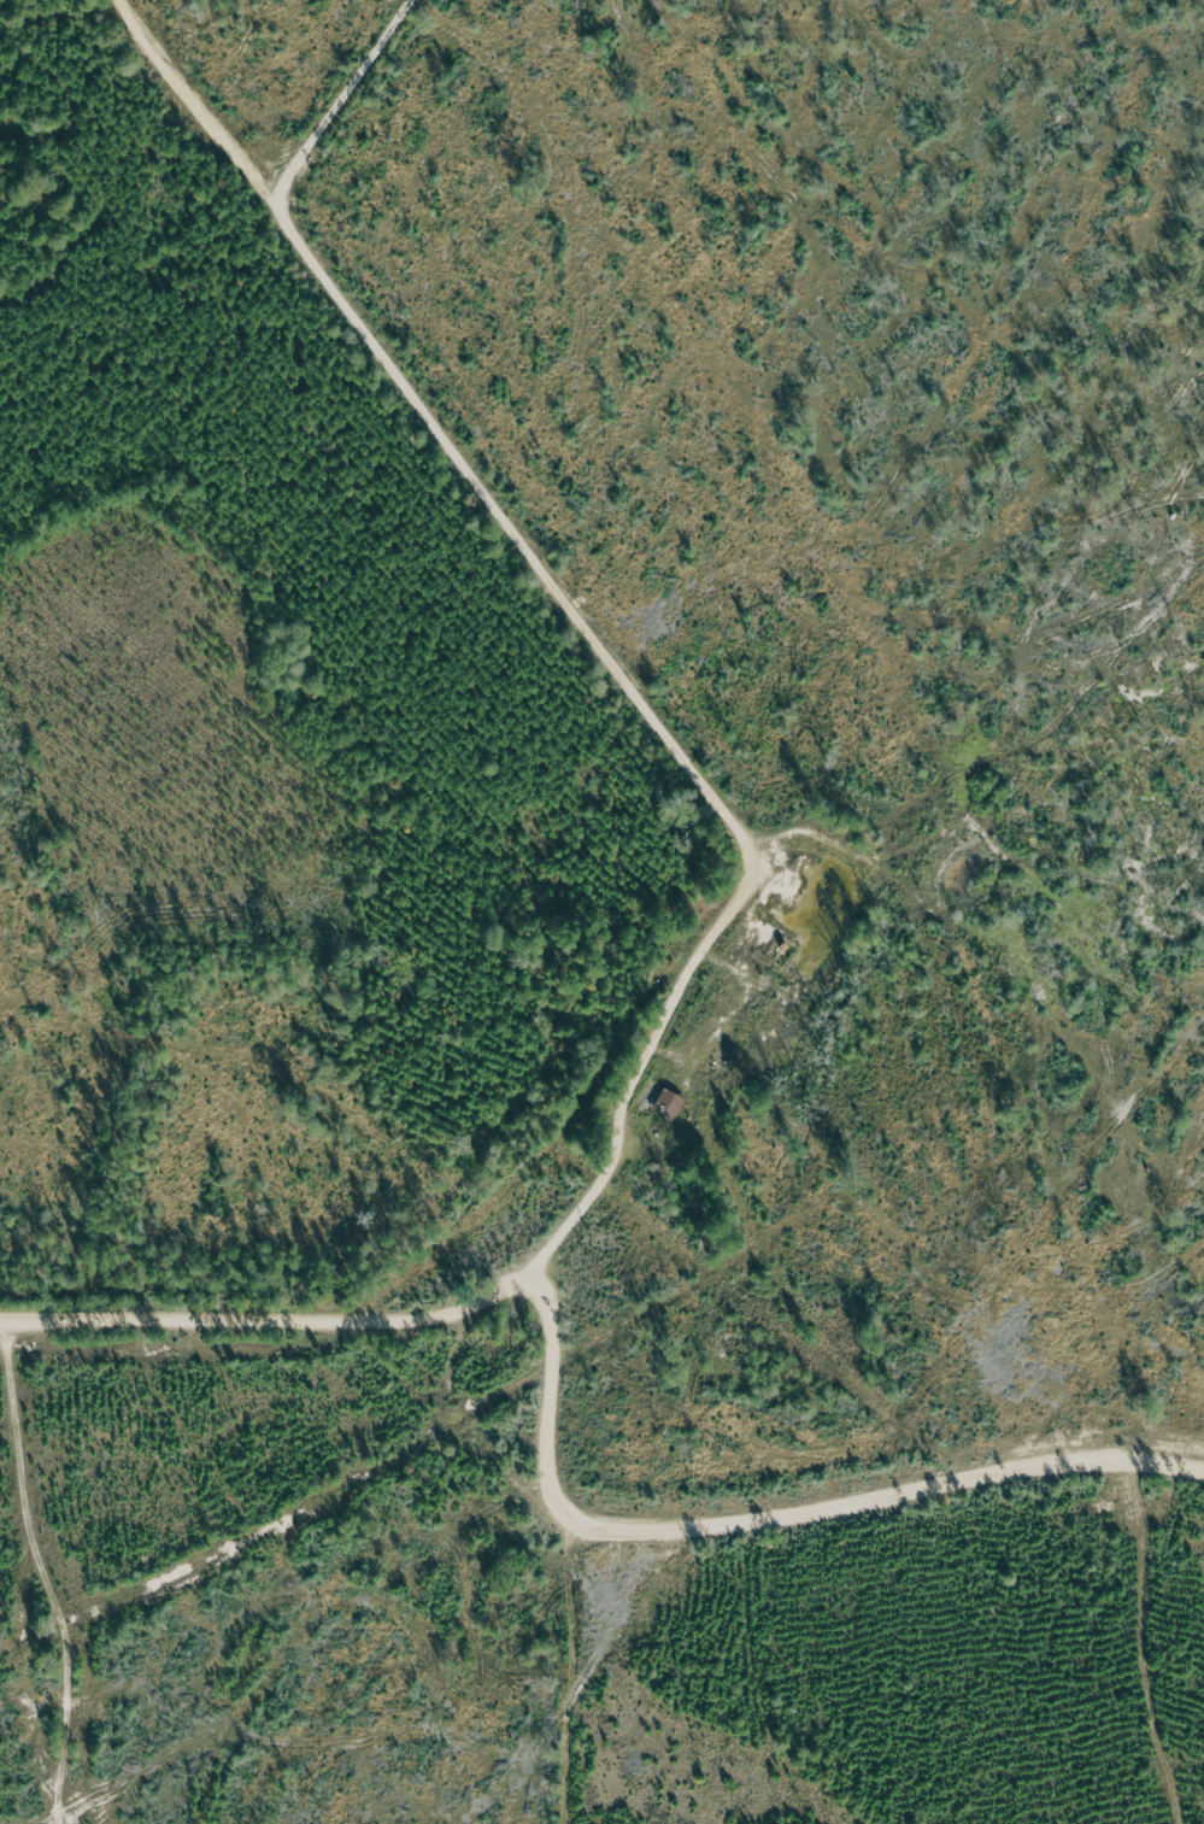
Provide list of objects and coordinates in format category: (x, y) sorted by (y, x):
road: (582, 627)
building: (670, 1105)
road: (270, 1322)
road: (762, 1506)
road: (43, 1573)

